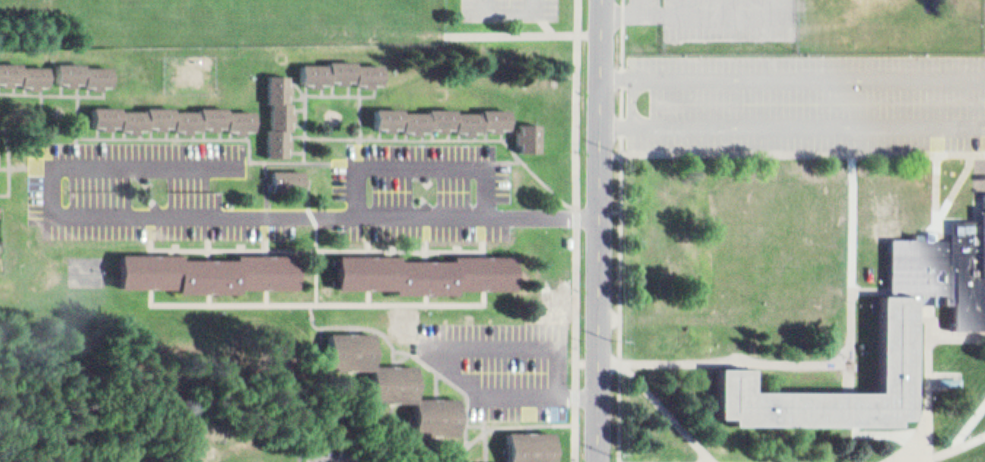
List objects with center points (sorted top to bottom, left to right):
road: (692, 2)
road: (735, 3)
road: (630, 4)
road: (784, 4)
road: (718, 5)
parking lot: (650, 6)
parking lot: (515, 9)
road: (518, 10)
parking lot: (734, 16)
park: (278, 19)
road: (554, 26)
road: (515, 33)
building: (343, 65)
building: (23, 67)
building: (84, 67)
road: (796, 70)
road: (639, 95)
parking lot: (810, 99)
building: (281, 107)
building: (175, 110)
building: (444, 113)
road: (796, 119)
building: (533, 131)
road: (806, 153)
road: (428, 161)
building: (289, 171)
parking lot: (144, 180)
parking lot: (430, 183)
road: (954, 187)
road: (934, 196)
road: (215, 216)
road: (627, 230)
road: (581, 231)
road: (606, 231)
road: (319, 232)
road: (153, 235)
road: (269, 235)
road: (372, 236)
road: (212, 238)
road: (431, 239)
road: (237, 249)
road: (395, 250)
road: (489, 253)
park: (89, 270)
building: (946, 271)
building: (211, 273)
building: (431, 274)
road: (874, 290)
road: (271, 296)
road: (373, 296)
road: (213, 298)
road: (432, 299)
road: (320, 303)
road: (933, 317)
road: (363, 326)
building: (902, 332)
road: (959, 338)
road: (473, 342)
building: (349, 347)
road: (399, 354)
road: (603, 354)
parking lot: (508, 358)
road: (845, 363)
road: (743, 365)
building: (397, 378)
road: (855, 378)
road: (457, 381)
road: (441, 383)
road: (933, 400)
road: (376, 404)
road: (671, 412)
building: (441, 415)
road: (507, 424)
road: (970, 428)
building: (535, 445)
road: (490, 446)
road: (959, 447)
parking lot: (336, 458)
road: (420, 458)
parking lot: (73, 460)
road: (337, 460)
building: (483, 461)
road: (909, 461)

